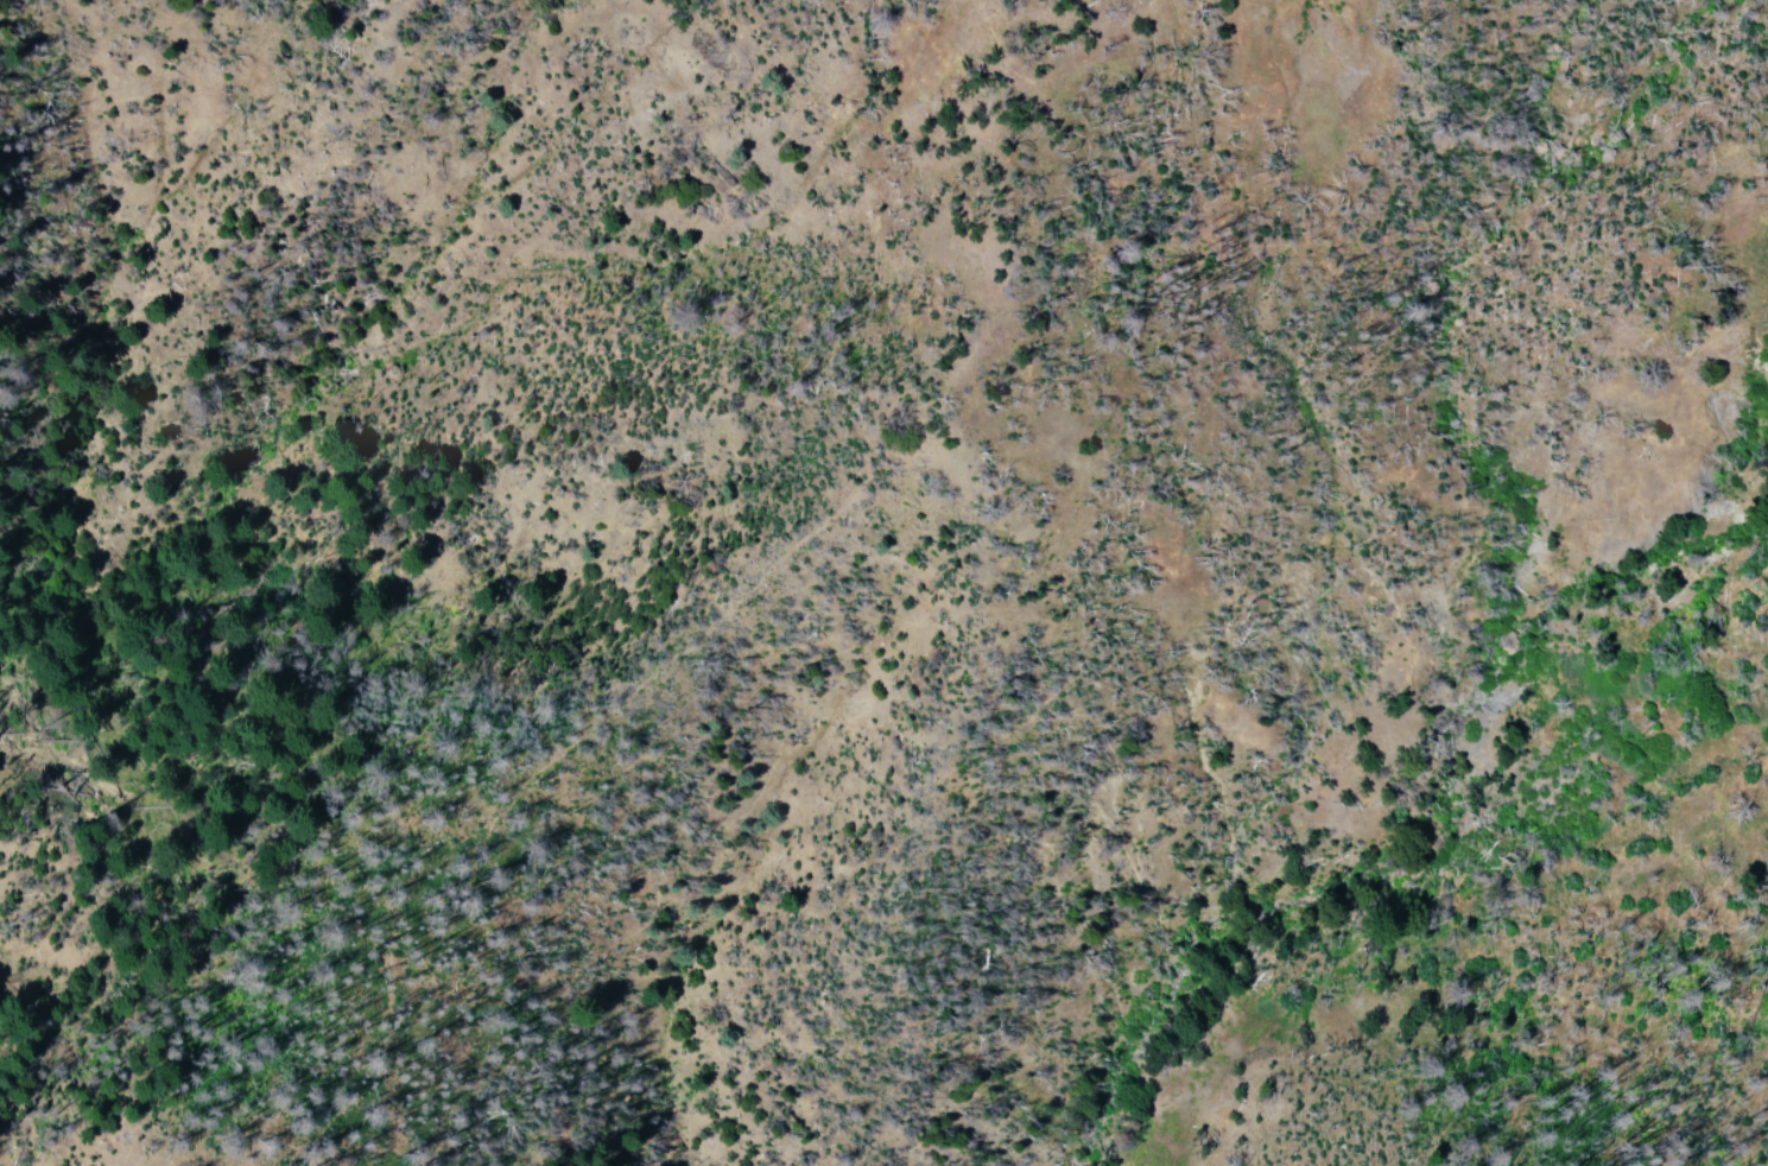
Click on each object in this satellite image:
road: (717, 1161)

